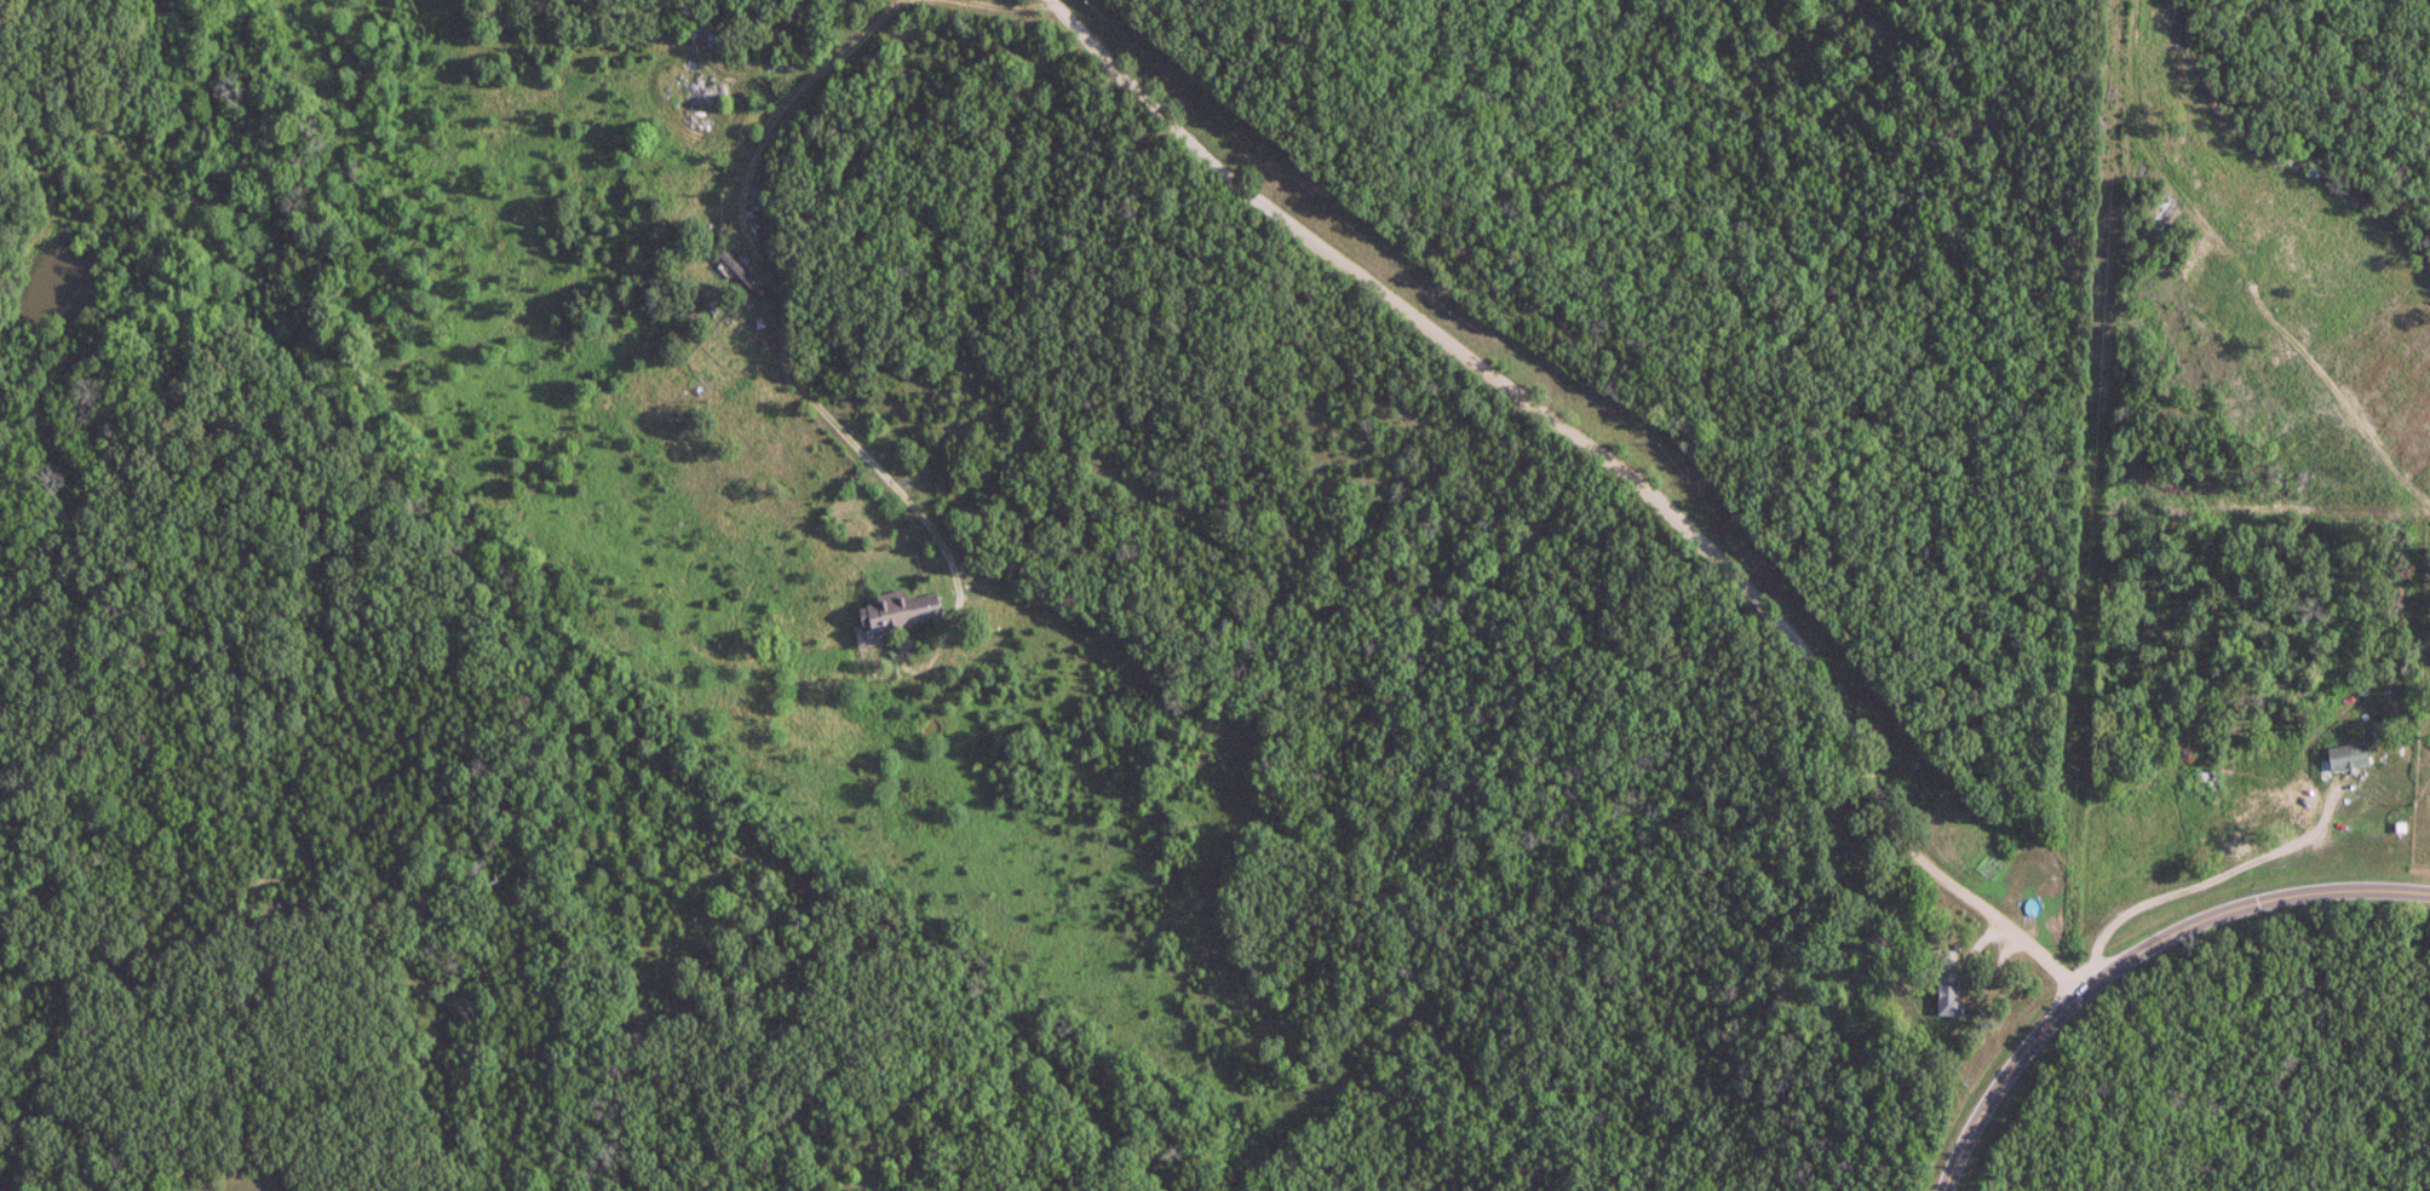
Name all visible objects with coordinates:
building: (696, 33)
building: (742, 272)
road: (1604, 451)
building: (901, 610)
building: (2240, 833)
building: (2190, 853)
road: (2130, 951)
building: (1949, 996)

